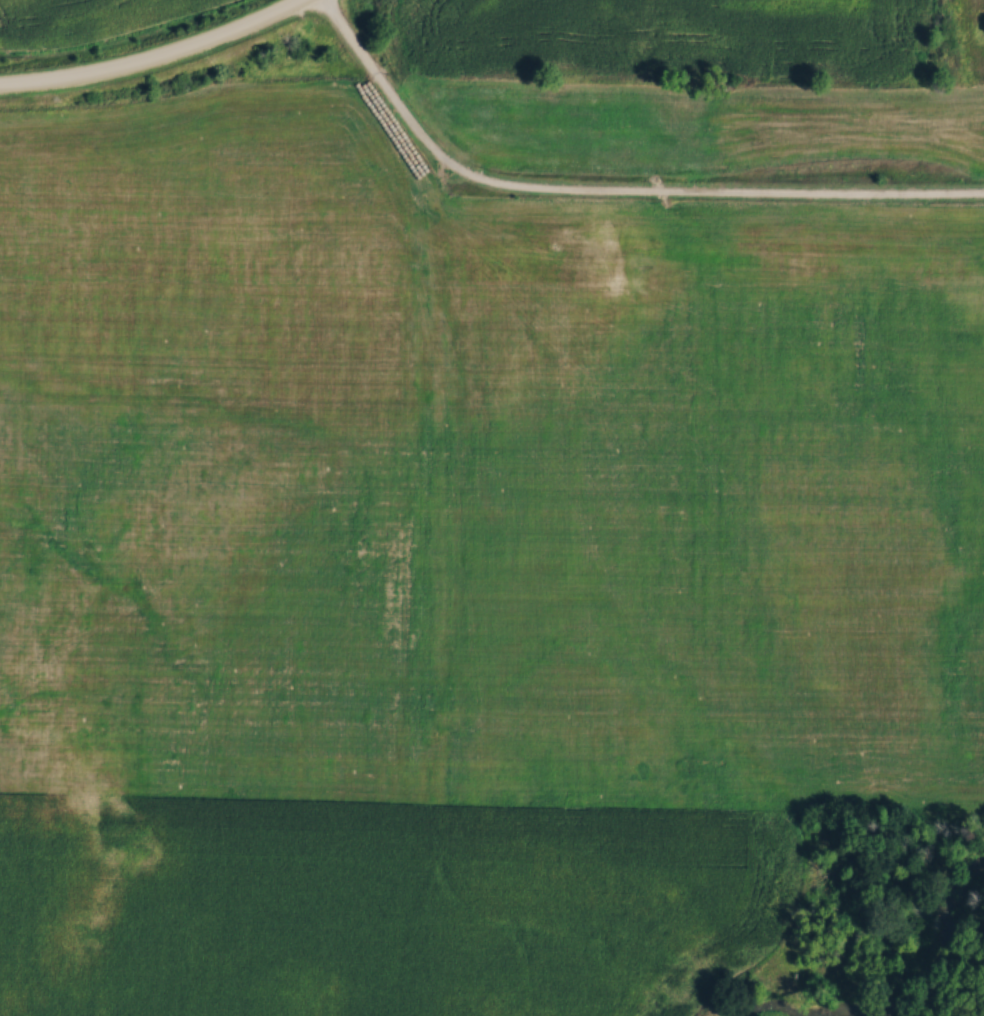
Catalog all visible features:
road: (156, 58)
road: (607, 190)

